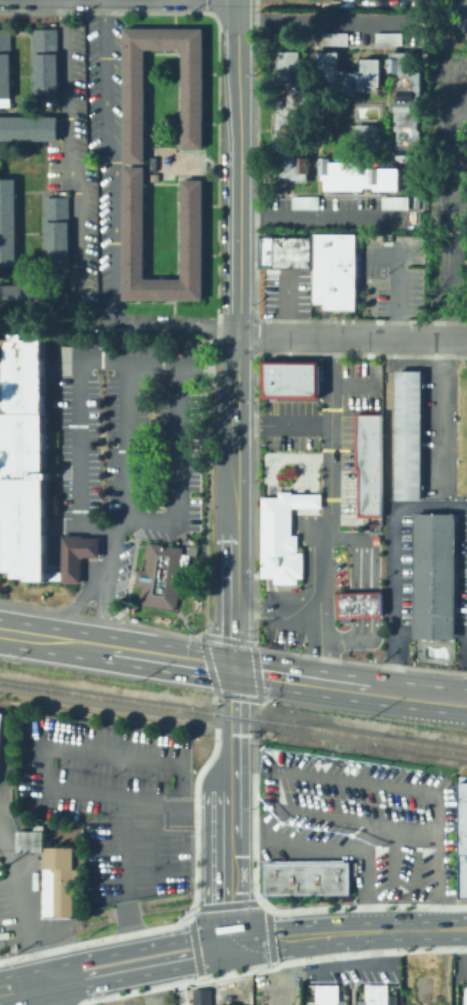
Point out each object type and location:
road: (466, 0)
road: (325, 21)
building: (387, 37)
building: (332, 38)
building: (5, 39)
building: (44, 39)
building: (325, 60)
building: (369, 73)
building: (44, 75)
building: (4, 79)
building: (190, 98)
building: (407, 104)
building: (284, 115)
building: (27, 127)
building: (367, 132)
road: (114, 158)
road: (67, 161)
building: (151, 163)
road: (235, 166)
building: (359, 178)
building: (394, 201)
building: (304, 202)
road: (375, 217)
building: (7, 222)
building: (190, 228)
building: (55, 230)
road: (216, 265)
building: (325, 265)
building: (29, 295)
road: (286, 304)
road: (155, 324)
road: (350, 338)
building: (290, 378)
road: (352, 385)
road: (442, 415)
road: (281, 426)
building: (404, 435)
road: (126, 441)
parking lot: (129, 443)
road: (285, 460)
road: (317, 460)
building: (365, 462)
building: (29, 470)
road: (78, 484)
road: (232, 499)
road: (253, 500)
road: (304, 500)
road: (330, 510)
road: (309, 522)
road: (88, 530)
road: (392, 534)
building: (281, 535)
road: (268, 536)
road: (373, 537)
road: (88, 546)
road: (107, 553)
road: (353, 564)
road: (363, 564)
road: (90, 568)
building: (160, 576)
building: (434, 576)
road: (267, 593)
road: (85, 602)
road: (34, 604)
road: (353, 604)
building: (358, 604)
road: (363, 604)
road: (373, 604)
road: (113, 607)
road: (249, 610)
road: (293, 610)
road: (68, 611)
road: (103, 618)
road: (353, 629)
road: (363, 629)
road: (202, 633)
road: (17, 634)
road: (358, 640)
road: (133, 652)
road: (393, 662)
traffic signals: (233, 667)
road: (349, 684)
railway: (233, 716)
building: (2, 723)
road: (64, 741)
road: (319, 774)
road: (194, 798)
road: (253, 800)
road: (124, 801)
road: (26, 810)
road: (229, 812)
building: (27, 840)
building: (463, 841)
road: (293, 842)
road: (8, 853)
road: (414, 861)
road: (364, 866)
road: (162, 875)
building: (308, 879)
building: (55, 881)
road: (224, 904)
road: (360, 905)
road: (24, 922)
road: (127, 924)
road: (256, 928)
traffic signals: (230, 932)
road: (269, 937)
road: (99, 938)
road: (194, 947)
road: (259, 951)
traffic signals: (231, 958)
road: (270, 967)
road: (286, 970)
parking lot: (361, 975)
road: (27, 982)
road: (177, 986)
road: (141, 989)
road: (43, 992)
building: (373, 994)
building: (325, 995)
building: (464, 995)
building: (199, 996)
building: (218, 1004)
building: (228, 1004)
building: (293, 1004)

